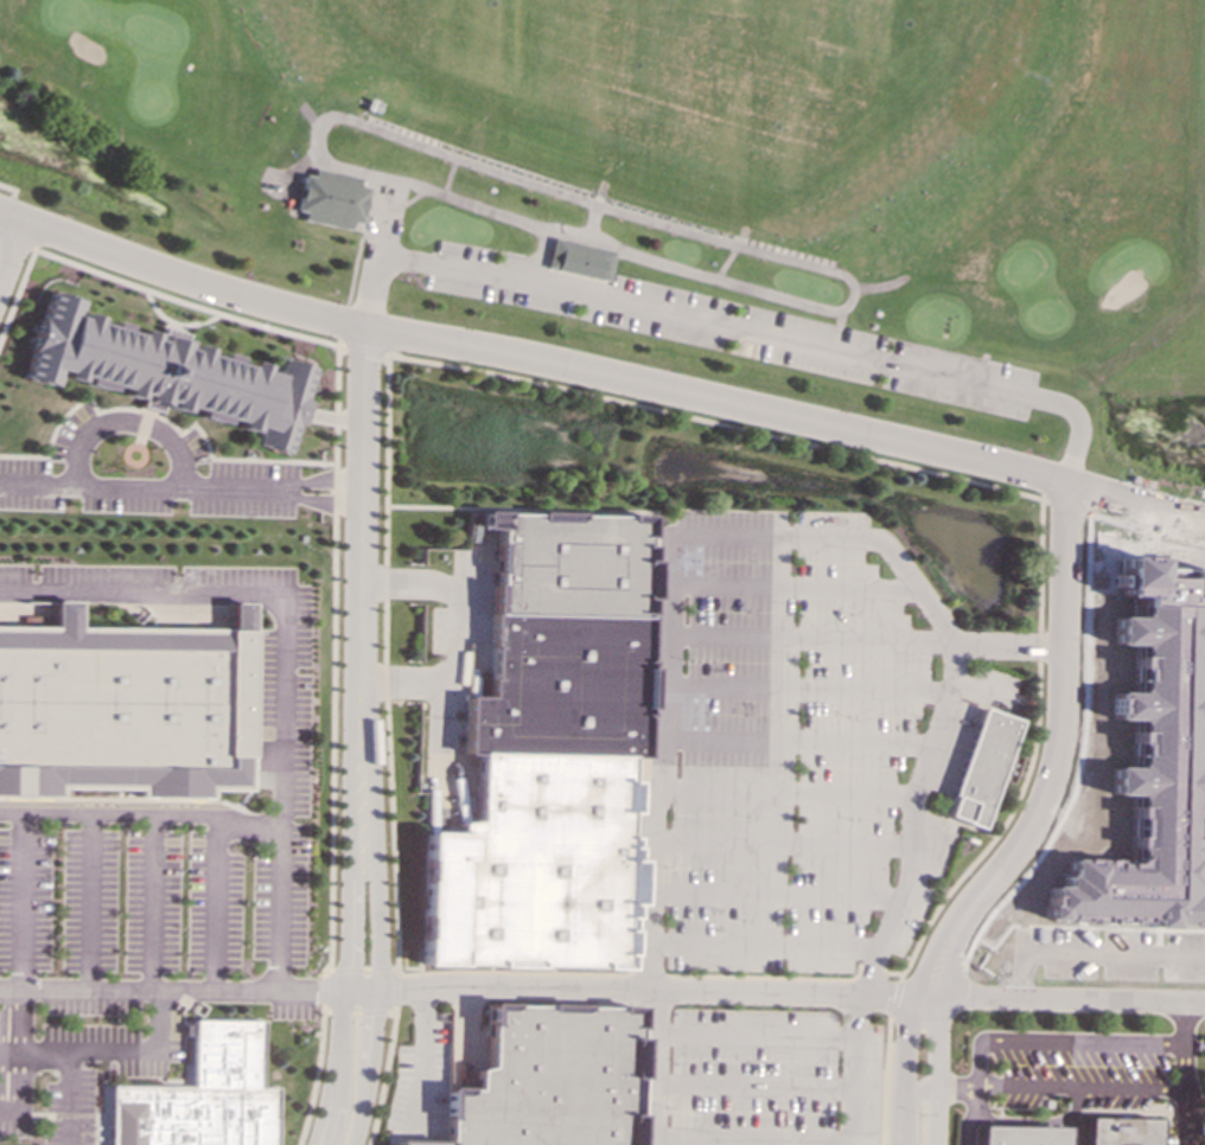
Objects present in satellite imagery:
road: (536, 186)
road: (8, 198)
building: (330, 198)
road: (12, 217)
road: (12, 261)
road: (355, 262)
building: (581, 262)
road: (377, 266)
road: (340, 325)
road: (734, 331)
parking lot: (739, 332)
road: (361, 350)
road: (543, 359)
building: (164, 372)
road: (128, 421)
road: (1084, 426)
road: (336, 456)
road: (325, 480)
road: (145, 488)
road: (1135, 499)
road: (325, 500)
road: (362, 503)
road: (1065, 507)
road: (792, 536)
road: (384, 543)
road: (791, 586)
road: (457, 634)
road: (809, 638)
road: (1008, 645)
road: (281, 654)
road: (806, 687)
parking lot: (992, 691)
road: (980, 692)
building: (123, 710)
parking lot: (783, 740)
road: (795, 742)
parking lot: (951, 747)
building: (548, 754)
road: (1056, 755)
road: (1079, 756)
building: (1148, 761)
building: (977, 768)
road: (785, 791)
road: (144, 819)
road: (778, 842)
parking lot: (922, 889)
road: (773, 893)
road: (19, 904)
road: (88, 904)
road: (148, 904)
road: (211, 904)
road: (377, 913)
road: (349, 914)
road: (760, 946)
road: (1084, 955)
road: (362, 968)
road: (929, 968)
road: (865, 970)
road: (629, 974)
road: (761, 977)
road: (394, 987)
road: (602, 989)
road: (323, 991)
road: (891, 994)
road: (358, 1012)
road: (1177, 1025)
road: (748, 1035)
road: (1098, 1043)
road: (110, 1054)
road: (416, 1057)
road: (17, 1058)
road: (898, 1067)
road: (930, 1069)
road: (315, 1075)
road: (382, 1075)
road: (633, 1076)
parking lot: (748, 1076)
building: (546, 1079)
road: (880, 1081)
road: (748, 1087)
road: (1073, 1087)
road: (961, 1093)
road: (69, 1099)
building: (203, 1099)
road: (1066, 1115)
building: (1111, 1131)
building: (1013, 1134)
road: (747, 1141)

